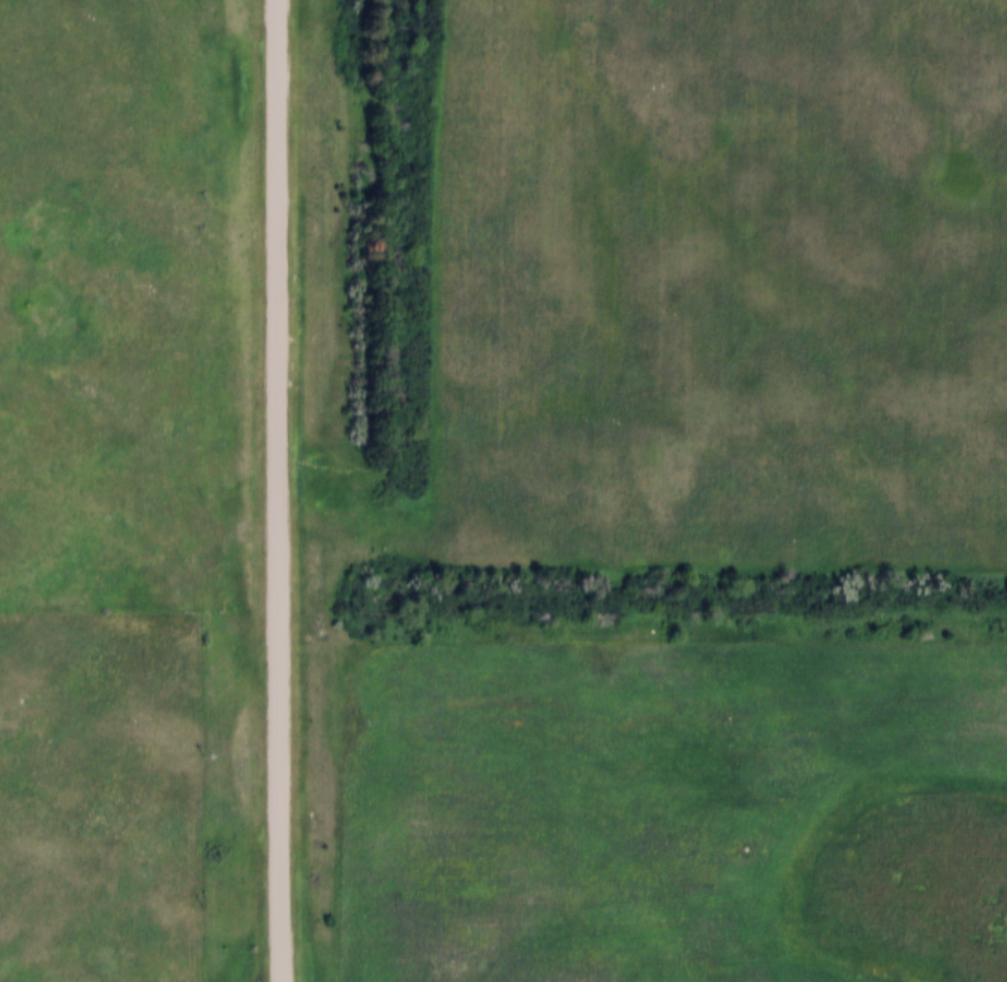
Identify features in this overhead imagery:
road: (280, 491)

